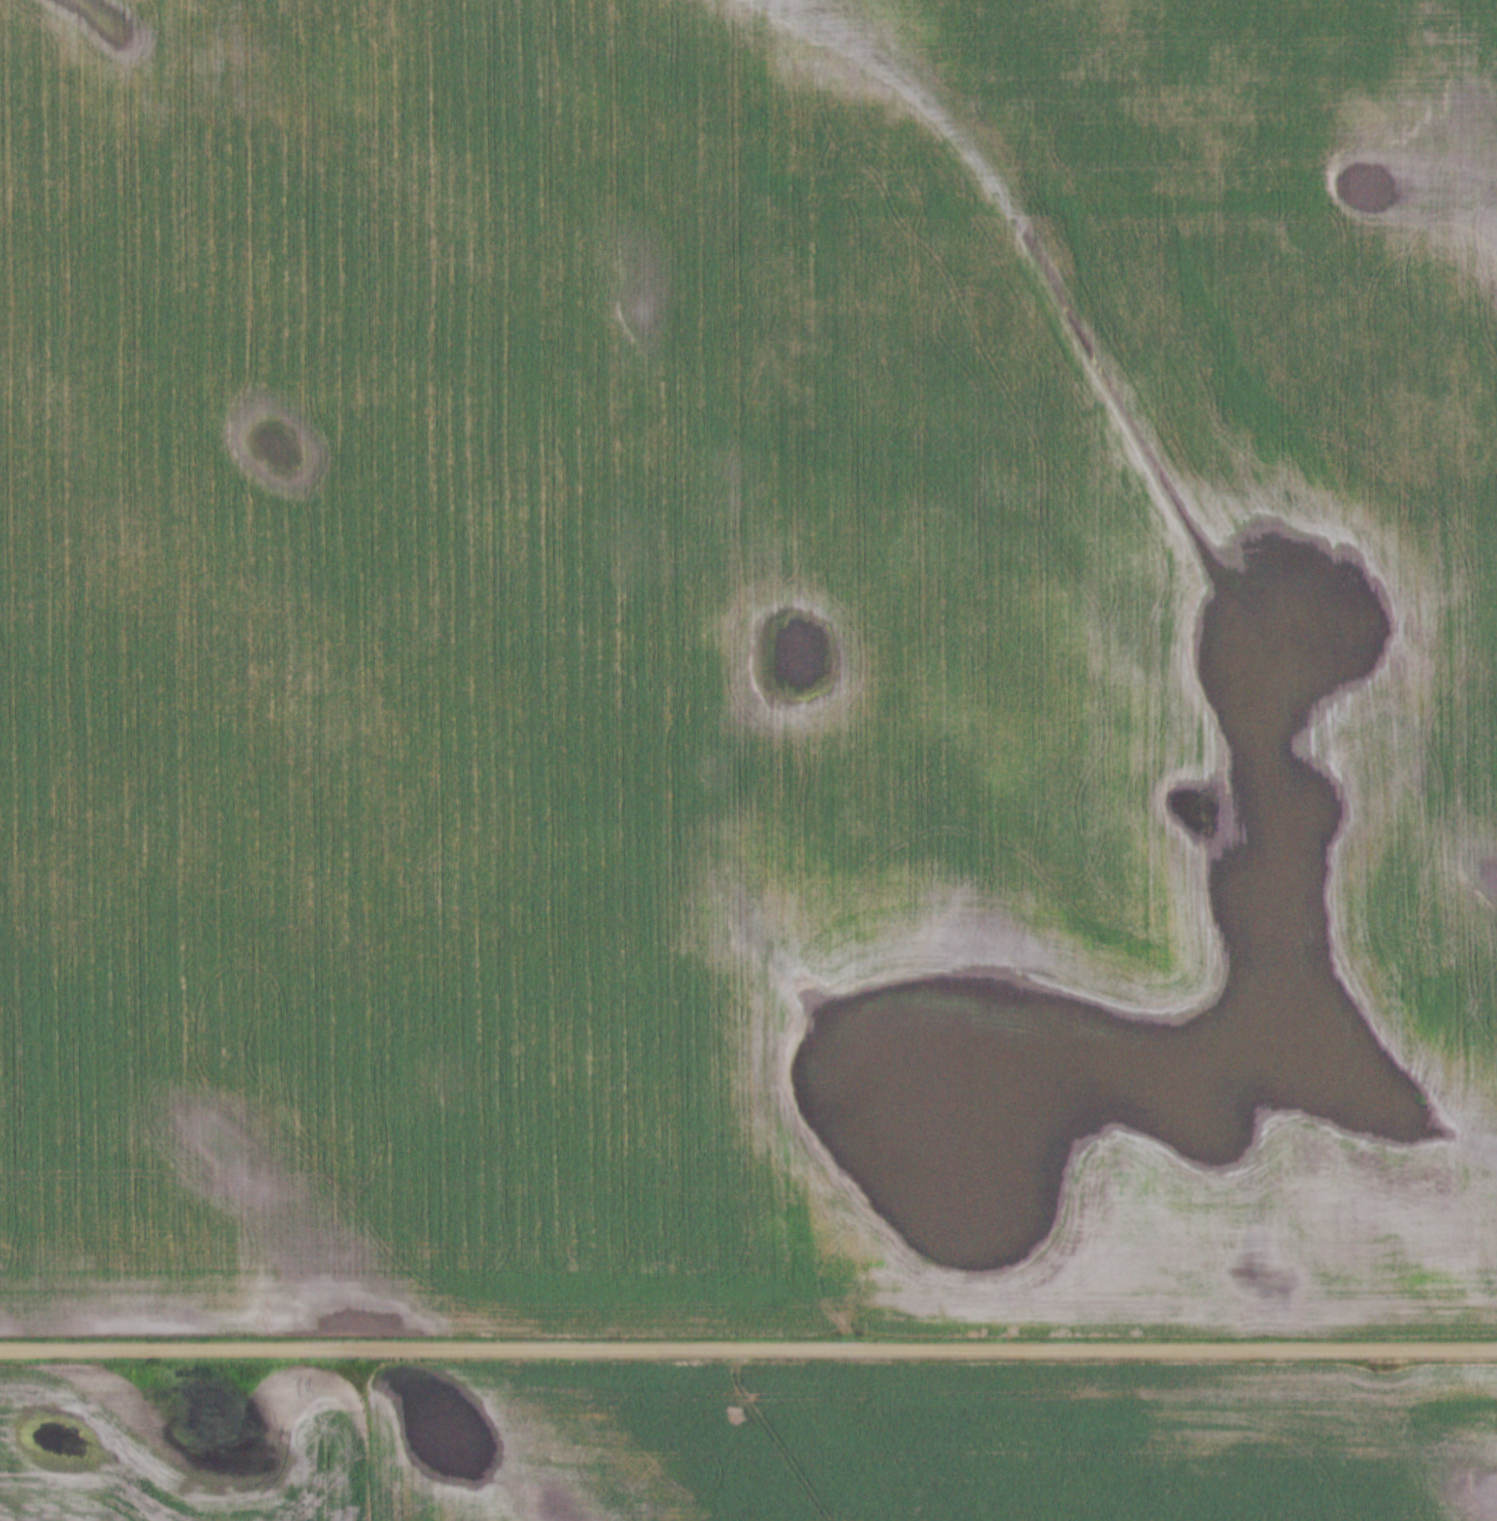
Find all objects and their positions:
road: (748, 1348)

